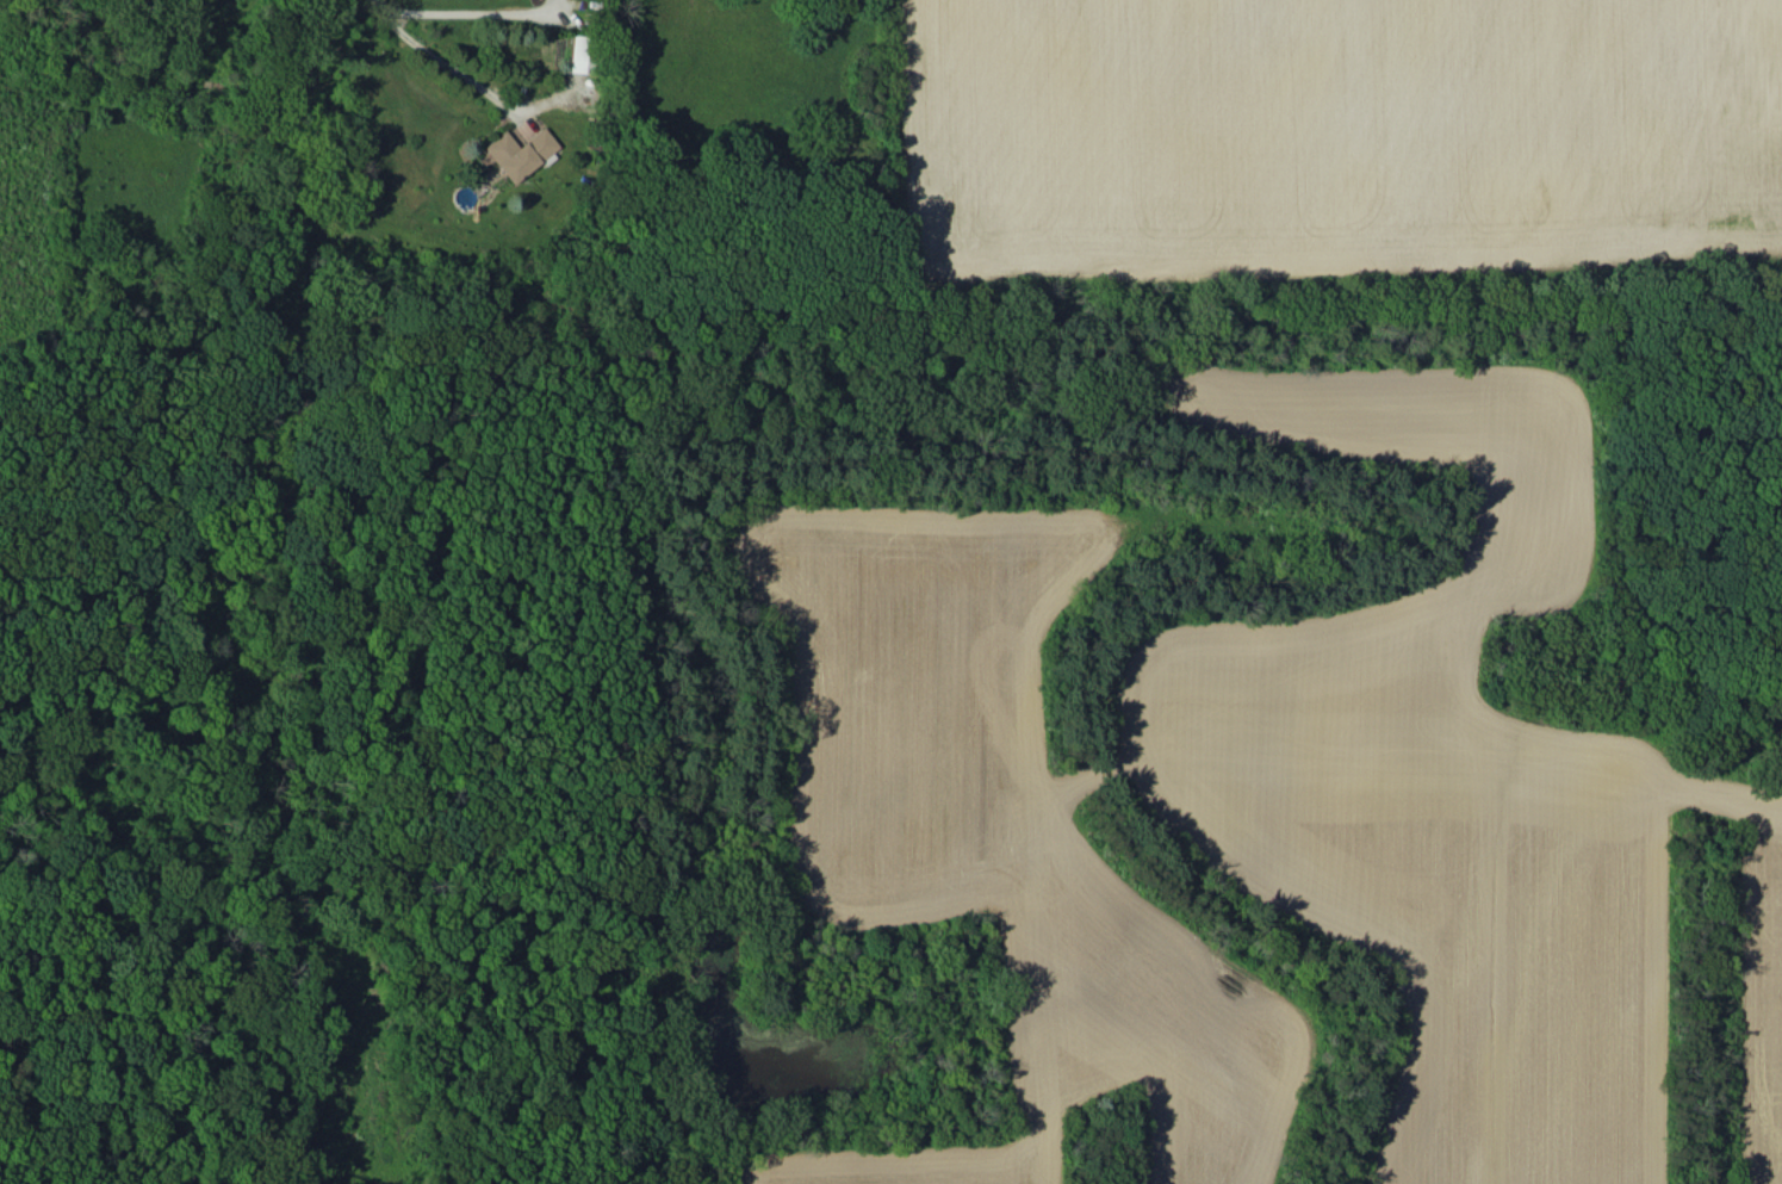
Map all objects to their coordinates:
road: (467, 11)
building: (578, 52)
road: (441, 61)
building: (519, 151)

